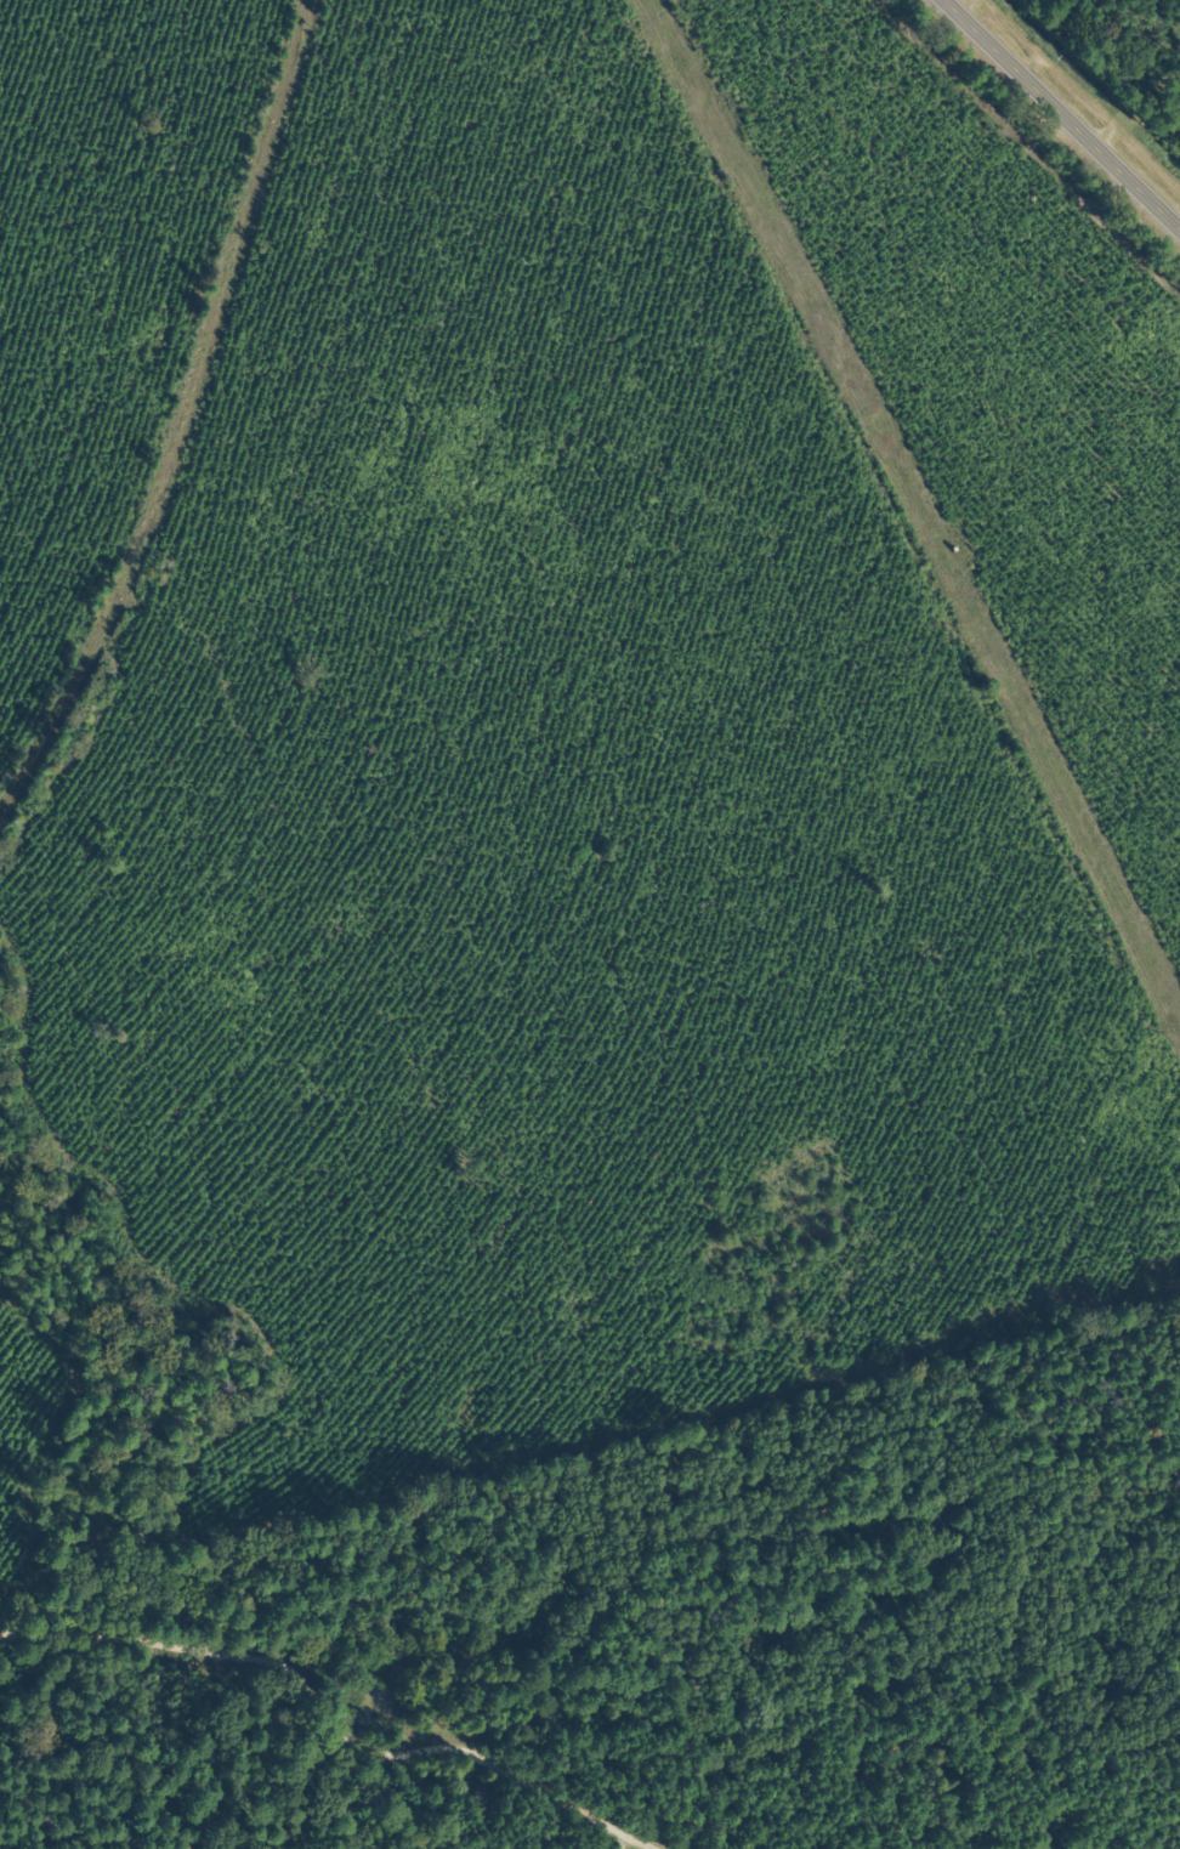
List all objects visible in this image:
railway: (1083, 93)
road: (1061, 114)
road: (175, 1675)

